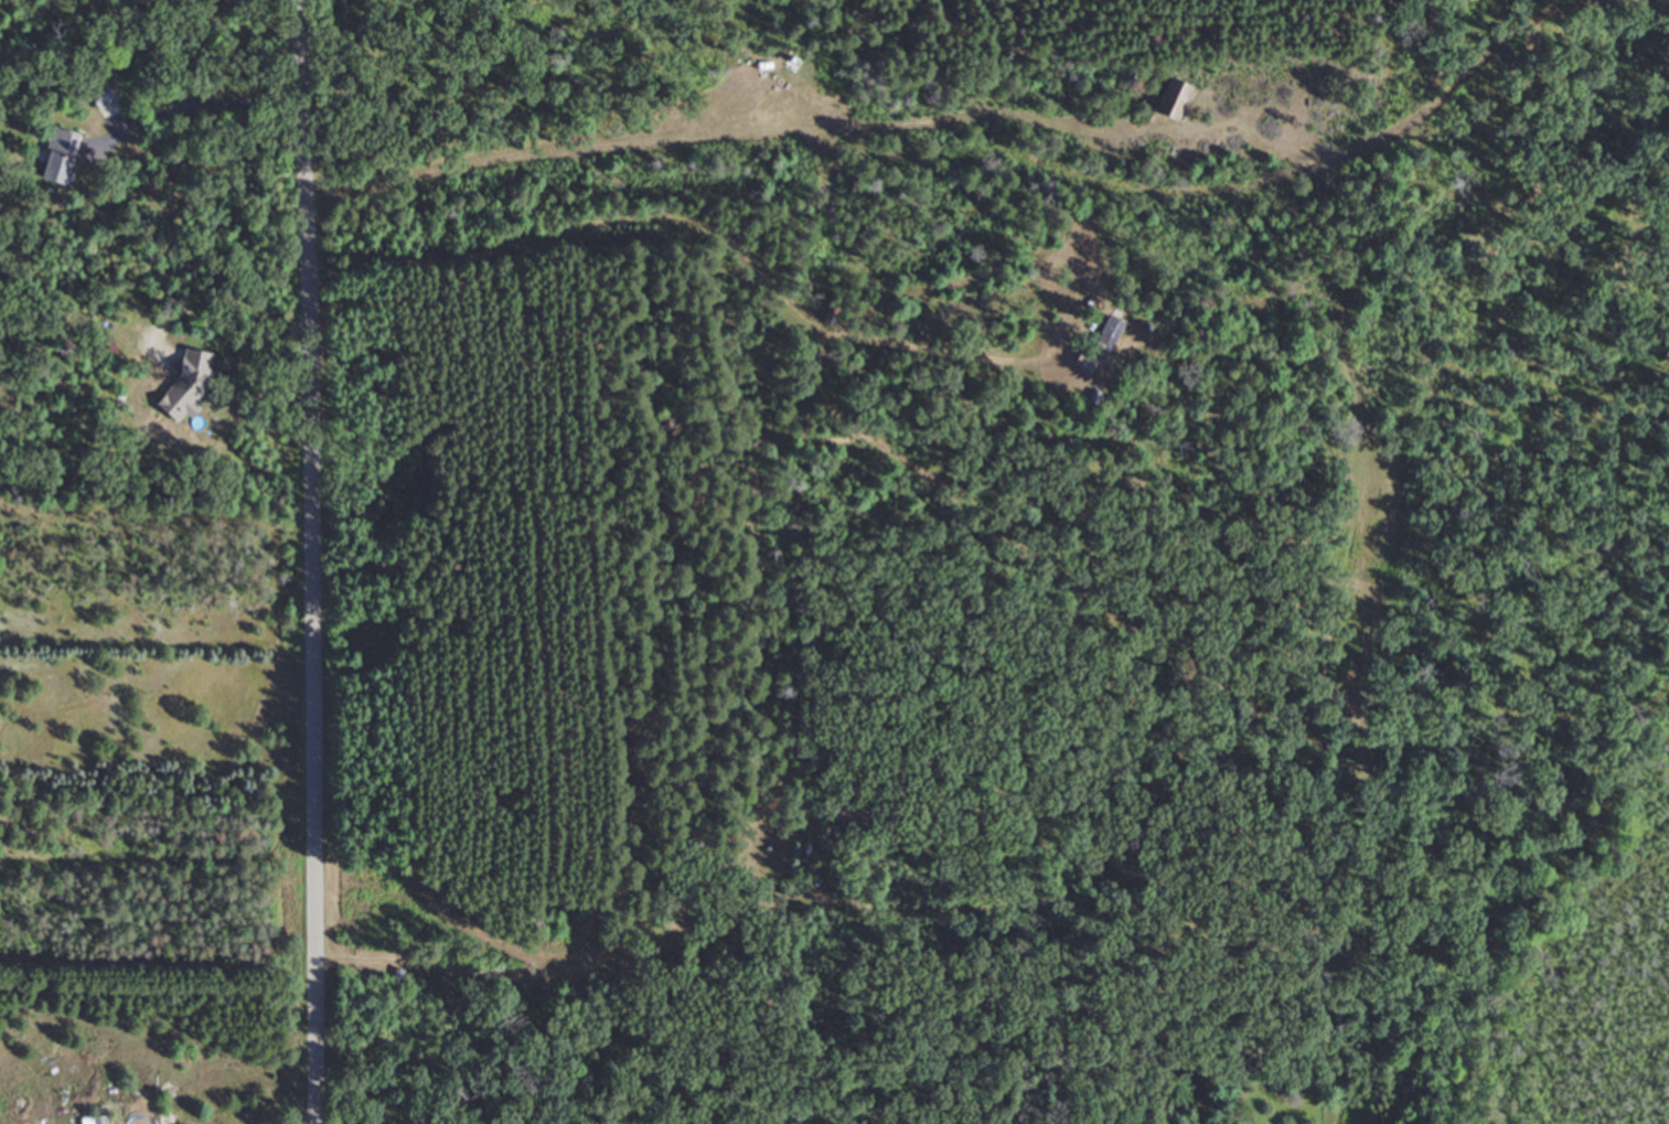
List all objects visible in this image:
park: (981, 42)
building: (1175, 97)
building: (105, 103)
road: (194, 105)
building: (58, 156)
road: (212, 304)
building: (1084, 361)
road: (301, 561)
building: (95, 1120)

